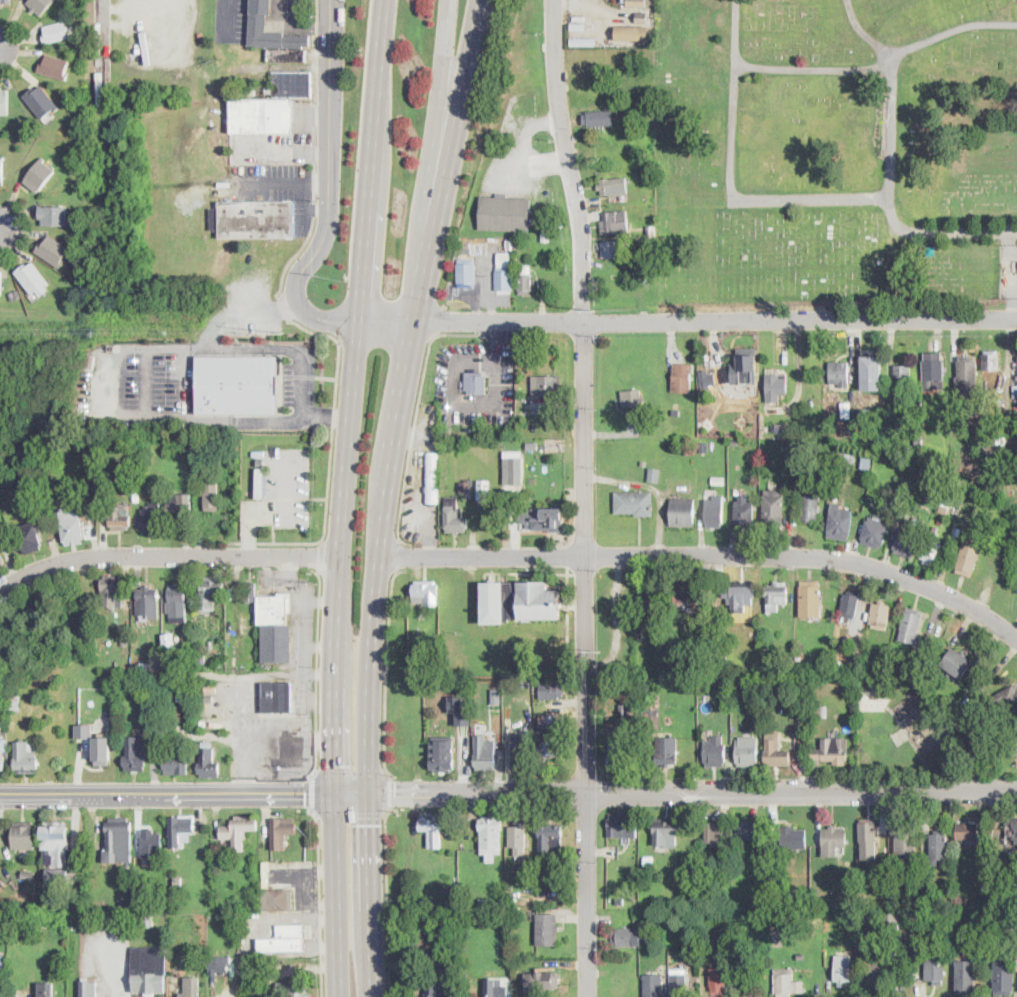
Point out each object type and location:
building: (5, 2)
building: (637, 3)
building: (40, 5)
building: (579, 17)
building: (642, 18)
parking lot: (231, 20)
road: (227, 21)
building: (575, 29)
building: (56, 32)
road: (863, 32)
building: (634, 34)
building: (275, 37)
building: (583, 42)
road: (878, 63)
building: (54, 67)
road: (104, 69)
building: (292, 84)
road: (464, 84)
road: (440, 85)
building: (41, 101)
building: (4, 102)
building: (261, 114)
building: (599, 118)
building: (22, 125)
parking lot: (279, 140)
road: (284, 149)
park: (837, 154)
road: (372, 160)
building: (2, 172)
building: (39, 175)
road: (730, 177)
road: (283, 181)
parking lot: (277, 186)
building: (614, 187)
road: (329, 188)
road: (442, 197)
road: (891, 202)
building: (506, 213)
building: (54, 216)
building: (257, 219)
building: (616, 224)
building: (650, 231)
building: (546, 234)
building: (510, 244)
building: (613, 248)
building: (53, 251)
road: (296, 256)
road: (428, 272)
building: (466, 273)
building: (504, 273)
building: (32, 278)
building: (526, 280)
building: (1, 283)
building: (17, 295)
road: (285, 307)
power tower: (596, 310)
road: (244, 314)
road: (687, 322)
power tower: (287, 332)
road: (497, 339)
road: (185, 354)
building: (91, 360)
building: (991, 363)
building: (746, 364)
building: (872, 372)
building: (839, 373)
building: (932, 373)
building: (904, 374)
road: (326, 377)
building: (682, 377)
building: (968, 377)
building: (707, 379)
road: (146, 380)
building: (476, 381)
building: (235, 383)
building: (546, 386)
building: (776, 387)
building: (1015, 391)
building: (851, 395)
building: (632, 398)
road: (403, 401)
road: (496, 403)
building: (918, 403)
building: (1016, 404)
building: (846, 410)
building: (676, 411)
road: (334, 413)
road: (327, 414)
building: (884, 414)
road: (415, 418)
building: (780, 430)
building: (847, 431)
building: (906, 432)
building: (530, 433)
building: (919, 440)
building: (736, 442)
building: (1016, 442)
building: (532, 446)
building: (547, 446)
building: (995, 446)
building: (704, 448)
building: (845, 459)
building: (866, 460)
building: (260, 461)
building: (644, 464)
building: (514, 469)
building: (92, 470)
building: (986, 474)
building: (654, 475)
building: (432, 479)
building: (534, 480)
building: (104, 481)
building: (802, 485)
building: (467, 486)
building: (483, 490)
parking lot: (281, 493)
building: (136, 495)
building: (211, 495)
road: (585, 498)
building: (875, 502)
building: (634, 503)
building: (944, 505)
building: (179, 506)
building: (810, 508)
building: (773, 510)
building: (904, 511)
building: (714, 512)
road: (278, 513)
building: (683, 513)
building: (743, 513)
building: (120, 516)
building: (454, 516)
building: (151, 517)
building: (543, 519)
building: (940, 519)
road: (383, 520)
building: (840, 522)
building: (72, 526)
building: (957, 530)
building: (935, 531)
building: (7, 532)
building: (875, 532)
building: (29, 537)
building: (908, 541)
road: (274, 542)
building: (932, 550)
road: (397, 553)
road: (707, 555)
road: (166, 556)
road: (320, 556)
building: (970, 557)
building: (1, 559)
road: (547, 572)
building: (113, 591)
building: (250, 592)
building: (683, 592)
building: (210, 593)
building: (426, 593)
building: (740, 596)
building: (776, 596)
building: (652, 599)
building: (810, 599)
building: (149, 602)
building: (518, 602)
road: (321, 603)
building: (177, 604)
road: (574, 605)
building: (850, 605)
road: (306, 612)
road: (568, 612)
building: (880, 615)
building: (911, 626)
building: (275, 627)
building: (640, 635)
building: (724, 635)
building: (706, 639)
building: (169, 641)
building: (123, 642)
building: (211, 644)
building: (766, 647)
power tower: (600, 650)
building: (855, 652)
building: (201, 657)
road: (334, 658)
building: (723, 659)
building: (799, 659)
building: (916, 660)
building: (958, 663)
building: (685, 667)
road: (387, 668)
road: (317, 672)
road: (371, 675)
building: (799, 683)
building: (749, 685)
road: (234, 687)
building: (551, 691)
building: (277, 695)
building: (156, 696)
building: (725, 696)
building: (496, 697)
building: (209, 698)
building: (1005, 699)
building: (14, 701)
building: (802, 710)
building: (110, 711)
building: (624, 711)
building: (819, 711)
building: (0, 713)
building: (651, 714)
building: (463, 719)
building: (203, 722)
building: (650, 723)
building: (958, 725)
park: (907, 728)
building: (84, 730)
building: (157, 731)
building: (971, 734)
road: (284, 736)
building: (549, 737)
building: (166, 740)
parking lot: (271, 746)
building: (101, 749)
building: (667, 750)
building: (775, 751)
building: (832, 751)
building: (715, 752)
building: (747, 752)
building: (485, 753)
building: (520, 753)
building: (136, 754)
building: (441, 754)
building: (619, 754)
building: (25, 757)
building: (208, 761)
building: (2, 762)
building: (175, 762)
traffic signals: (334, 765)
road: (350, 771)
road: (54, 791)
road: (137, 791)
road: (250, 791)
traffic signals: (305, 791)
road: (389, 791)
road: (312, 792)
road: (353, 793)
road: (693, 793)
traffic signals: (395, 795)
road: (351, 813)
traffic signals: (371, 824)
building: (623, 825)
building: (432, 829)
building: (746, 829)
building: (180, 830)
building: (239, 830)
building: (281, 831)
building: (666, 831)
building: (968, 831)
building: (867, 832)
building: (906, 832)
building: (491, 833)
building: (716, 833)
building: (1011, 833)
building: (23, 836)
building: (518, 838)
building: (793, 838)
building: (835, 838)
building: (551, 839)
building: (119, 840)
building: (151, 842)
building: (905, 844)
building: (55, 845)
building: (938, 846)
building: (739, 847)
building: (649, 860)
power tower: (598, 861)
building: (863, 870)
road: (371, 872)
building: (28, 875)
building: (56, 876)
building: (178, 880)
building: (915, 881)
building: (633, 883)
building: (451, 892)
building: (535, 893)
road: (303, 894)
building: (794, 896)
building: (898, 896)
building: (949, 896)
road: (386, 898)
building: (278, 899)
road: (319, 900)
building: (958, 900)
building: (975, 900)
building: (489, 902)
building: (226, 908)
building: (851, 922)
building: (148, 923)
building: (661, 923)
building: (988, 928)
building: (547, 929)
building: (778, 929)
building: (0, 931)
building: (853, 931)
building: (897, 936)
building: (628, 937)
building: (287, 938)
building: (711, 940)
road: (315, 941)
building: (201, 949)
building: (509, 949)
building: (802, 956)
building: (220, 965)
building: (149, 969)
building: (843, 969)
road: (288, 970)
building: (935, 970)
building: (873, 972)
road: (374, 974)
building: (717, 975)
building: (1003, 976)
building: (965, 978)
building: (542, 981)
building: (679, 983)
building: (787, 983)
building: (654, 985)
building: (191, 987)
building: (436, 987)
building: (496, 987)
building: (93, 989)
building: (292, 989)
building: (46, 990)
building: (975, 996)

